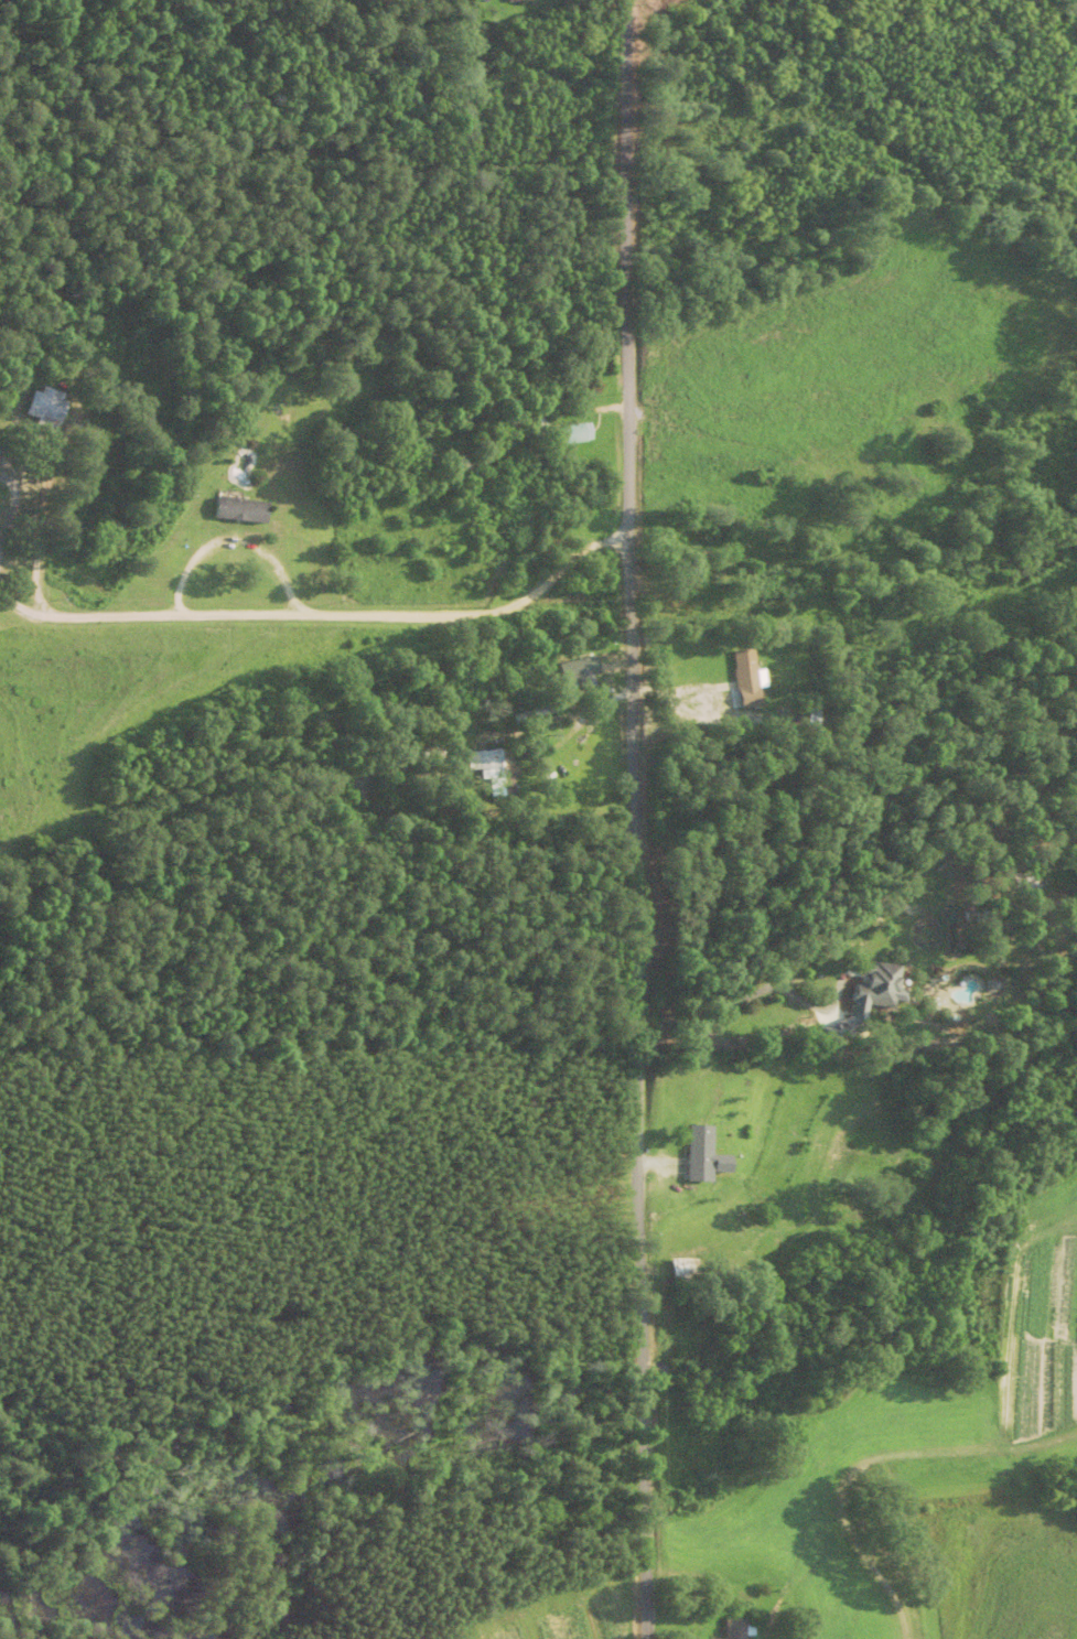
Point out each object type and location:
building: (708, 0)
building: (520, 1)
building: (119, 356)
building: (47, 411)
building: (574, 436)
building: (241, 513)
road: (36, 552)
road: (331, 616)
building: (585, 665)
building: (746, 670)
building: (488, 762)
road: (632, 819)
building: (866, 985)
building: (701, 1155)
building: (686, 1268)
building: (735, 1629)

